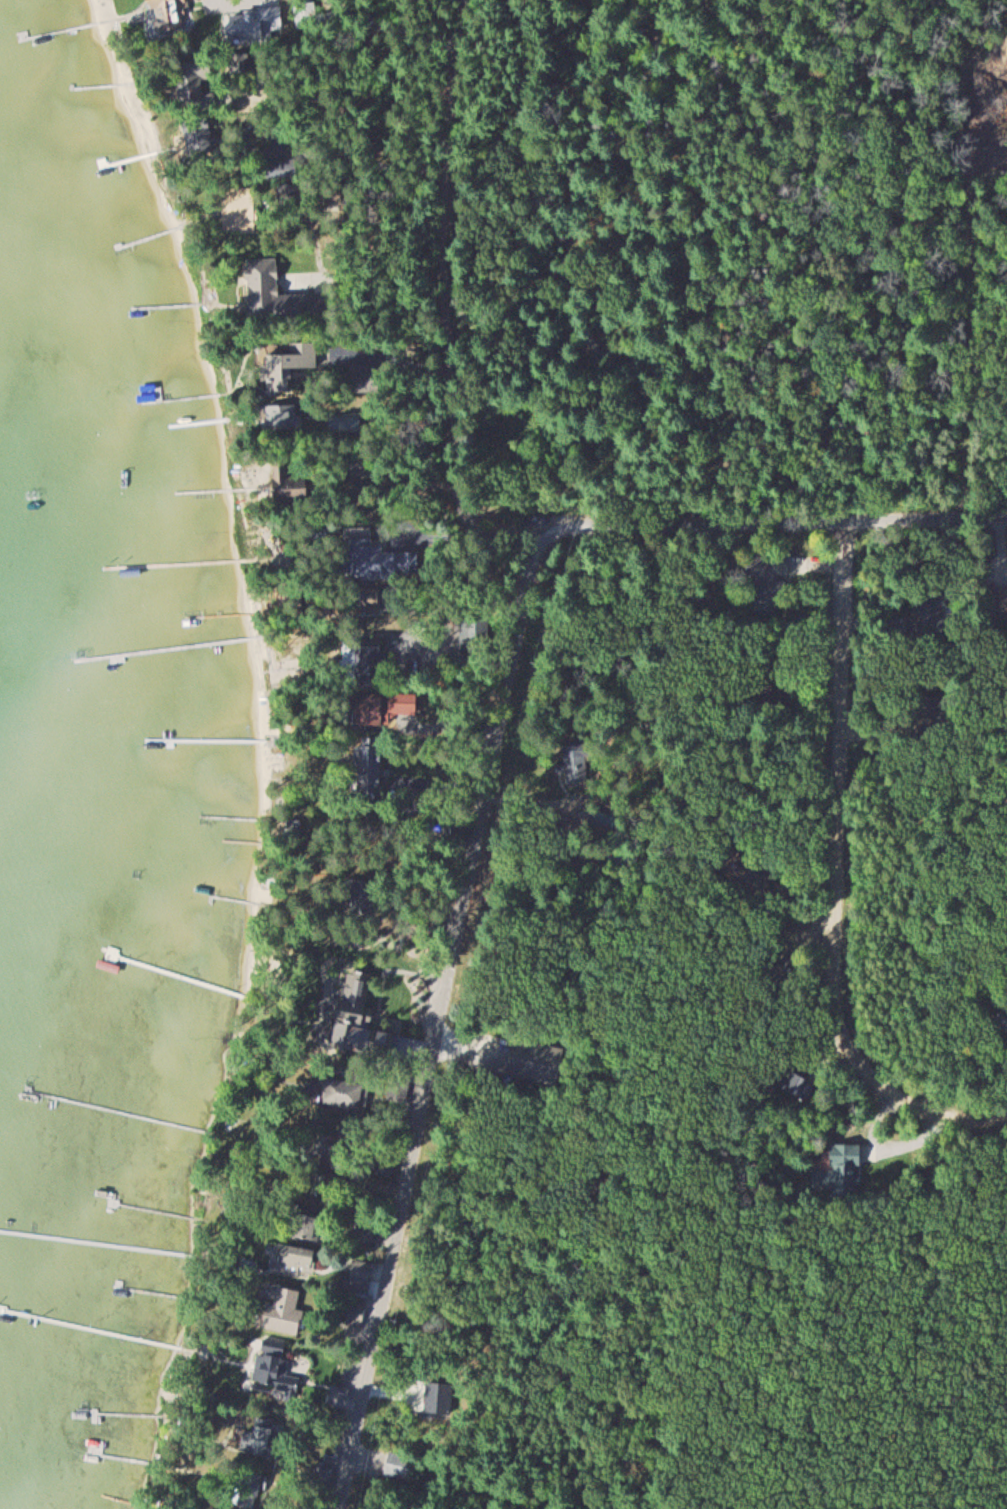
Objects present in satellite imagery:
building: (169, 15)
building: (195, 84)
building: (198, 134)
road: (326, 268)
road: (469, 285)
building: (272, 293)
road: (270, 301)
building: (290, 366)
building: (285, 416)
building: (289, 478)
road: (776, 522)
road: (285, 535)
road: (341, 535)
road: (463, 539)
building: (768, 583)
building: (1003, 598)
building: (931, 613)
building: (373, 653)
building: (771, 699)
building: (372, 769)
building: (755, 873)
road: (836, 879)
building: (364, 906)
building: (355, 1012)
road: (444, 1023)
building: (536, 1062)
building: (346, 1093)
building: (842, 1170)
building: (365, 1231)
building: (297, 1260)
building: (360, 1277)
building: (284, 1311)
building: (357, 1317)
building: (279, 1377)
building: (265, 1438)
building: (400, 1466)
building: (324, 1479)

